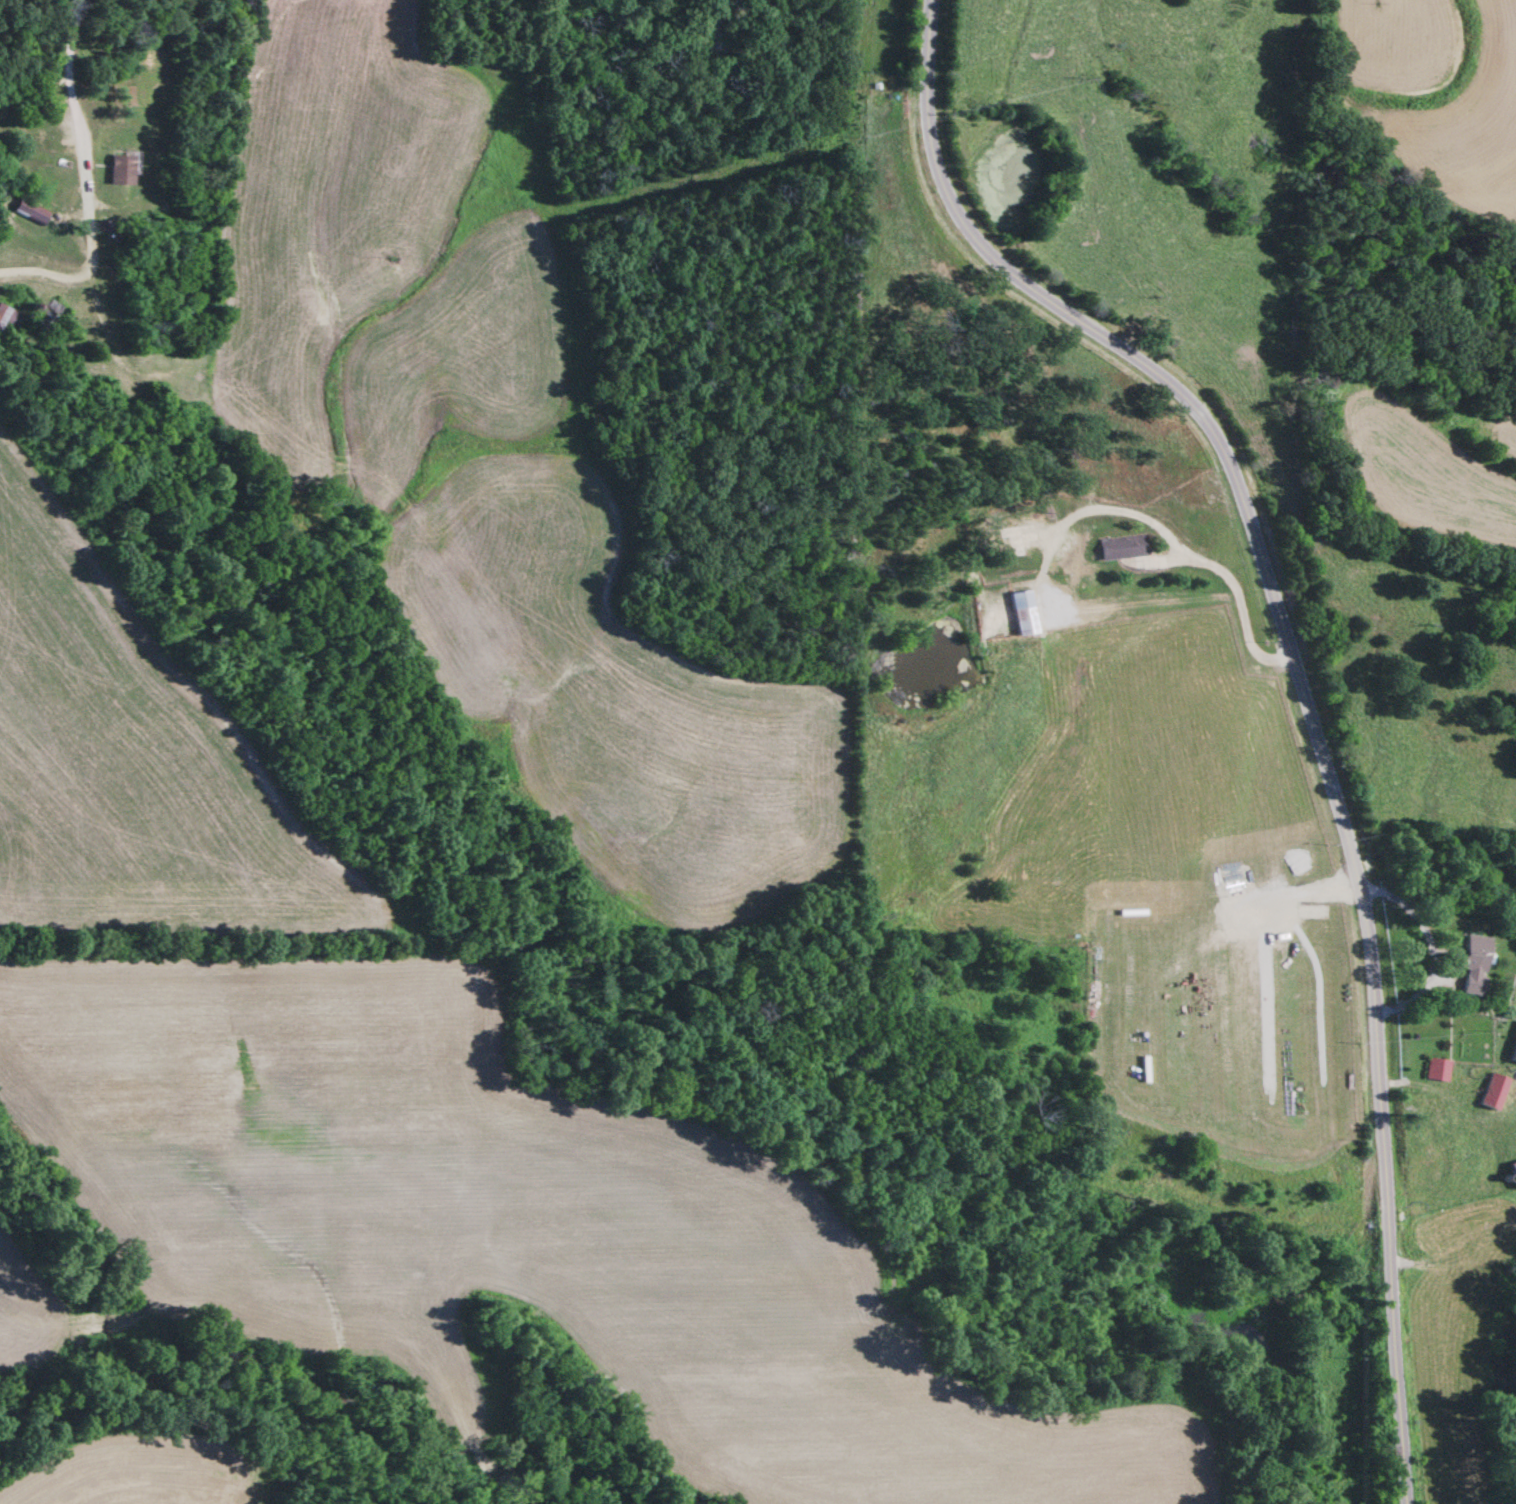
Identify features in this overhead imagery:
building: (117, 173)
building: (26, 213)
building: (139, 305)
building: (47, 318)
building: (4, 320)
building: (1008, 539)
building: (1120, 549)
building: (1018, 613)
road: (1300, 686)
building: (1469, 963)
building: (1512, 1051)
building: (1433, 1071)
building: (1489, 1093)
building: (1512, 1175)
river: (1512, 1323)

